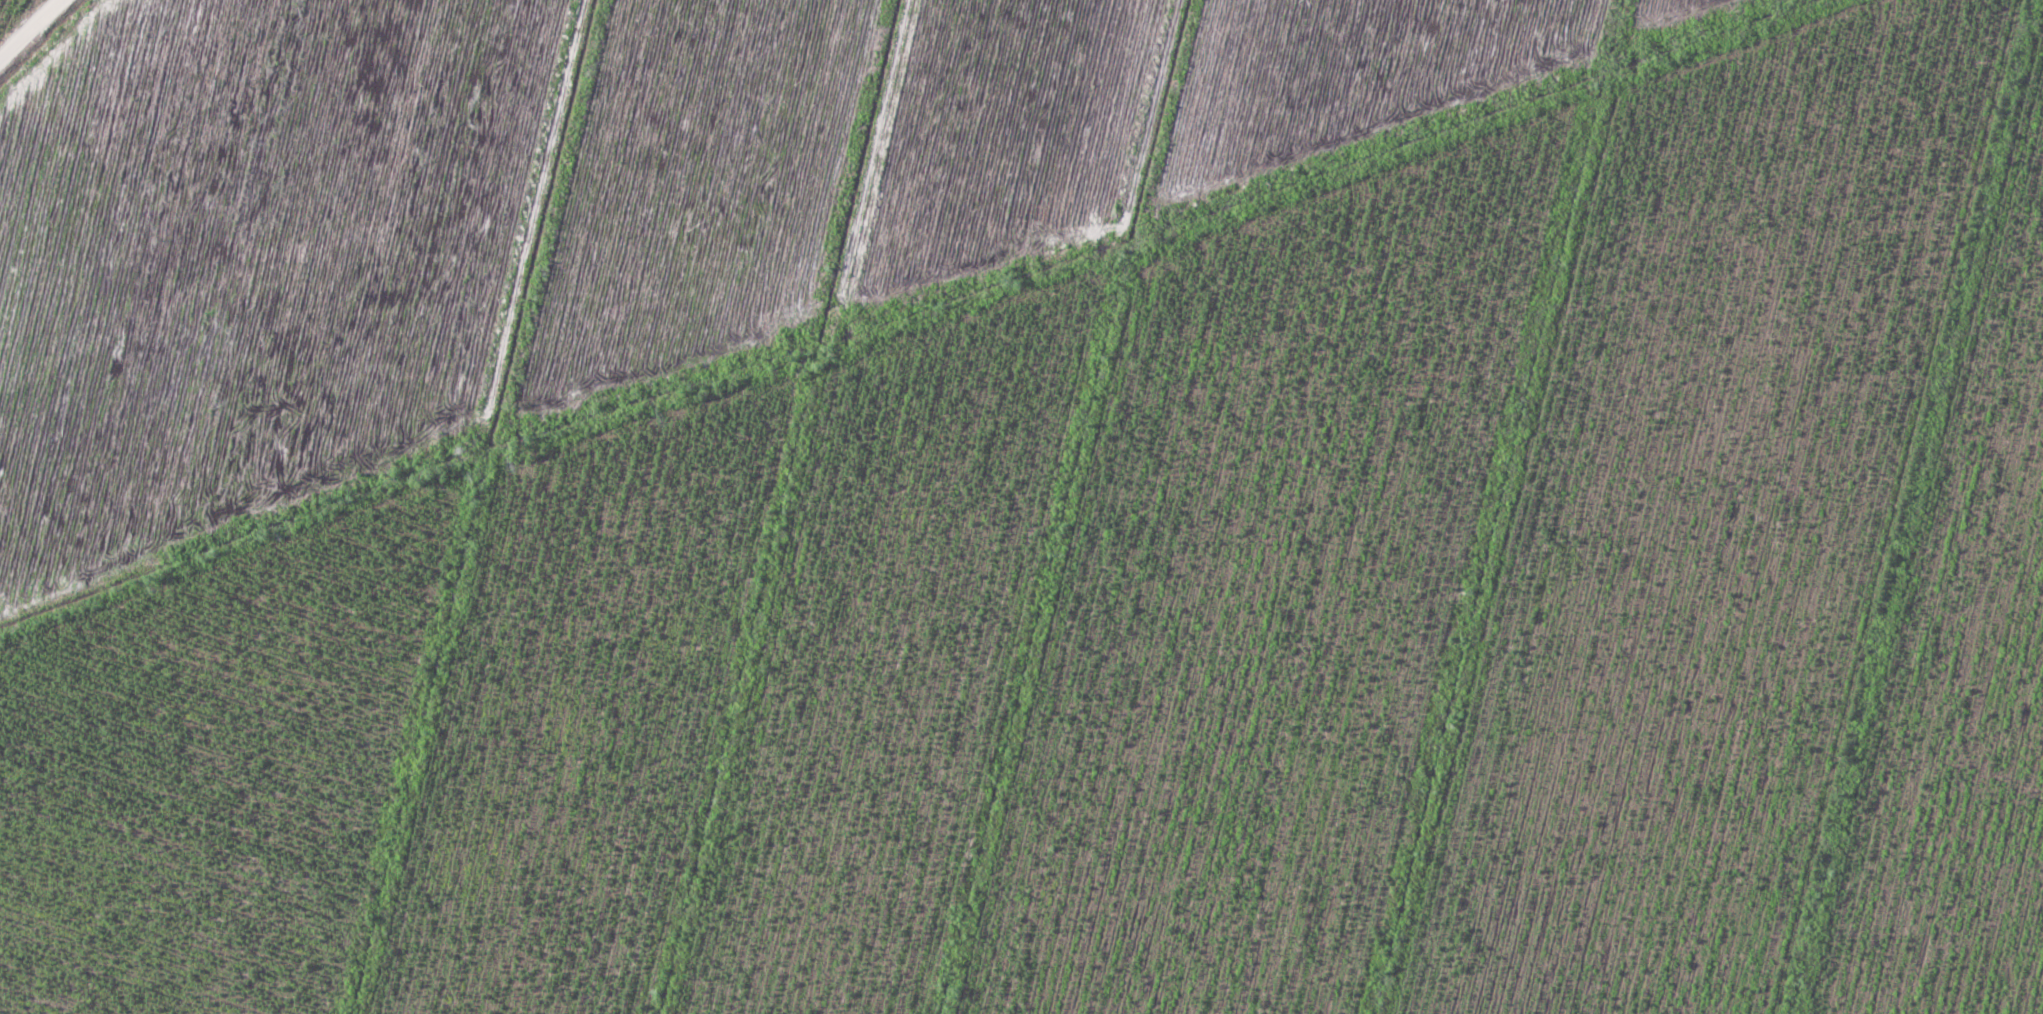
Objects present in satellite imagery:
road: (30, 30)

